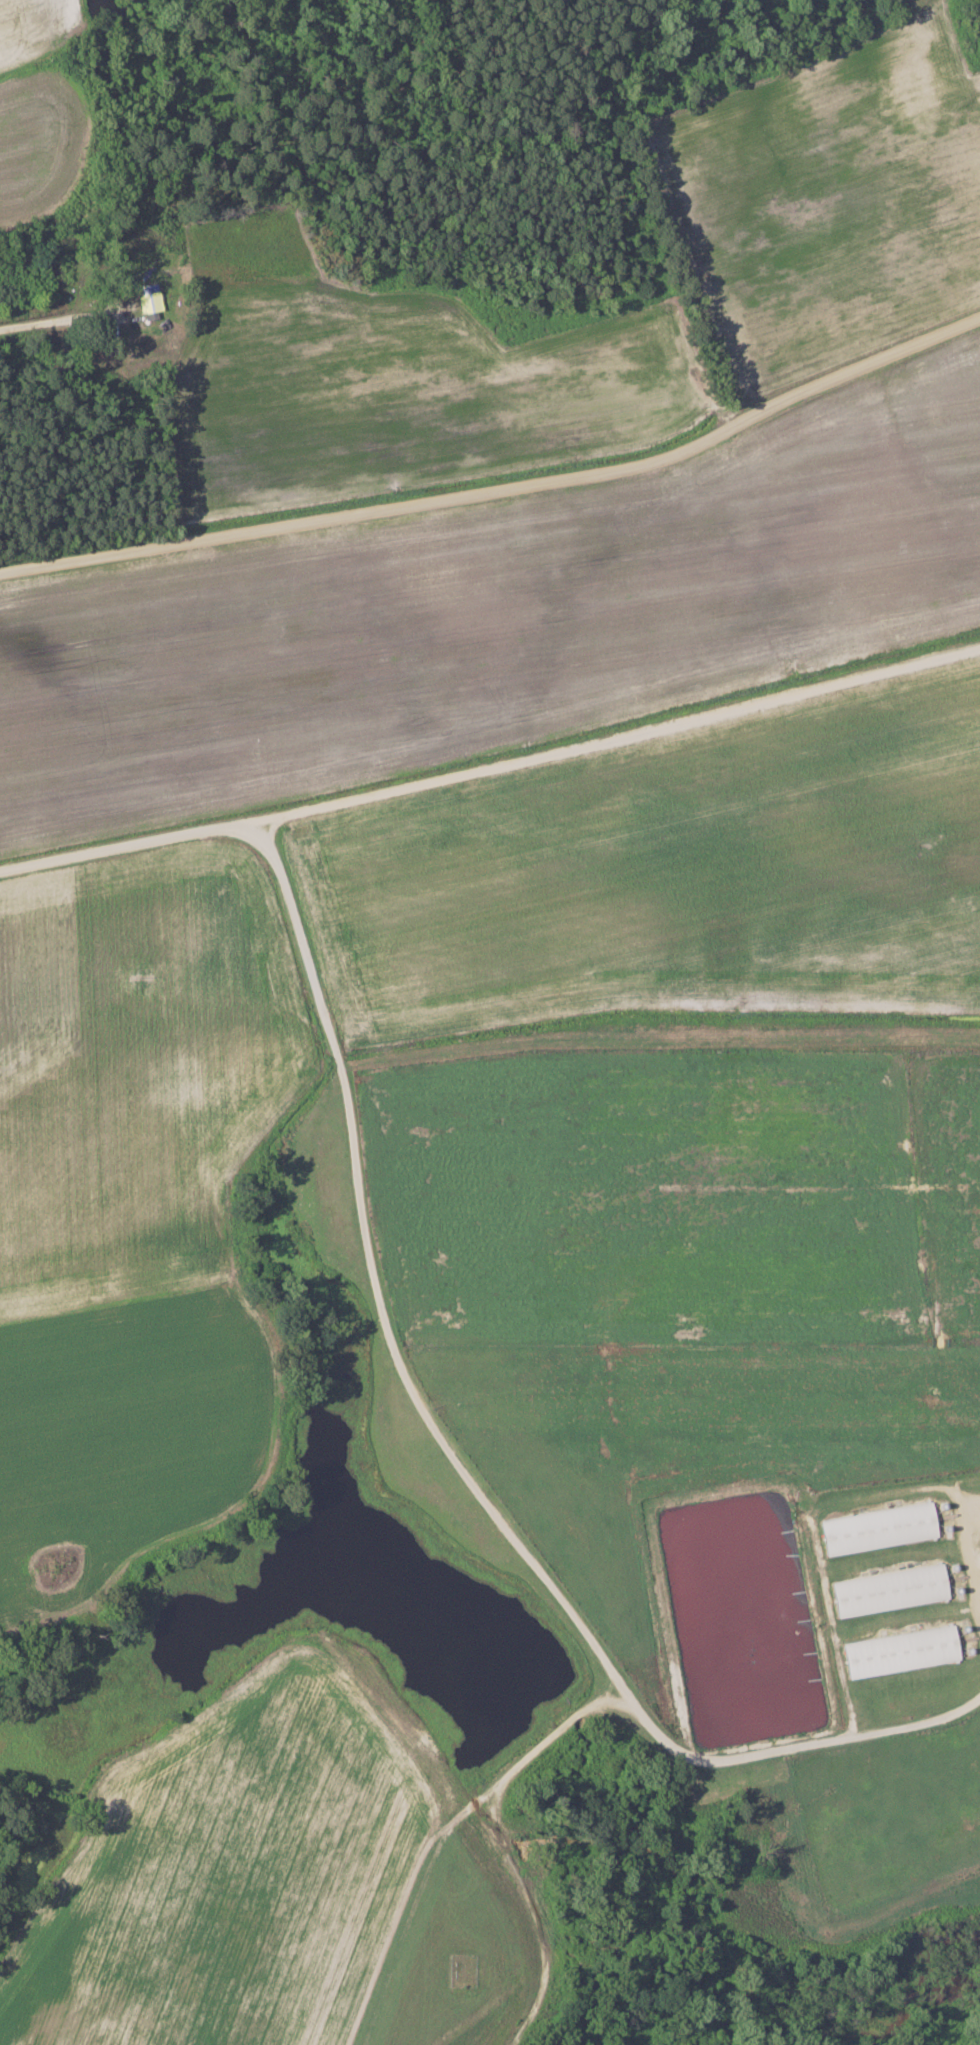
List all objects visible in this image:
building: (150, 300)
road: (15, 562)
building: (879, 1529)
building: (891, 1592)
building: (902, 1653)

